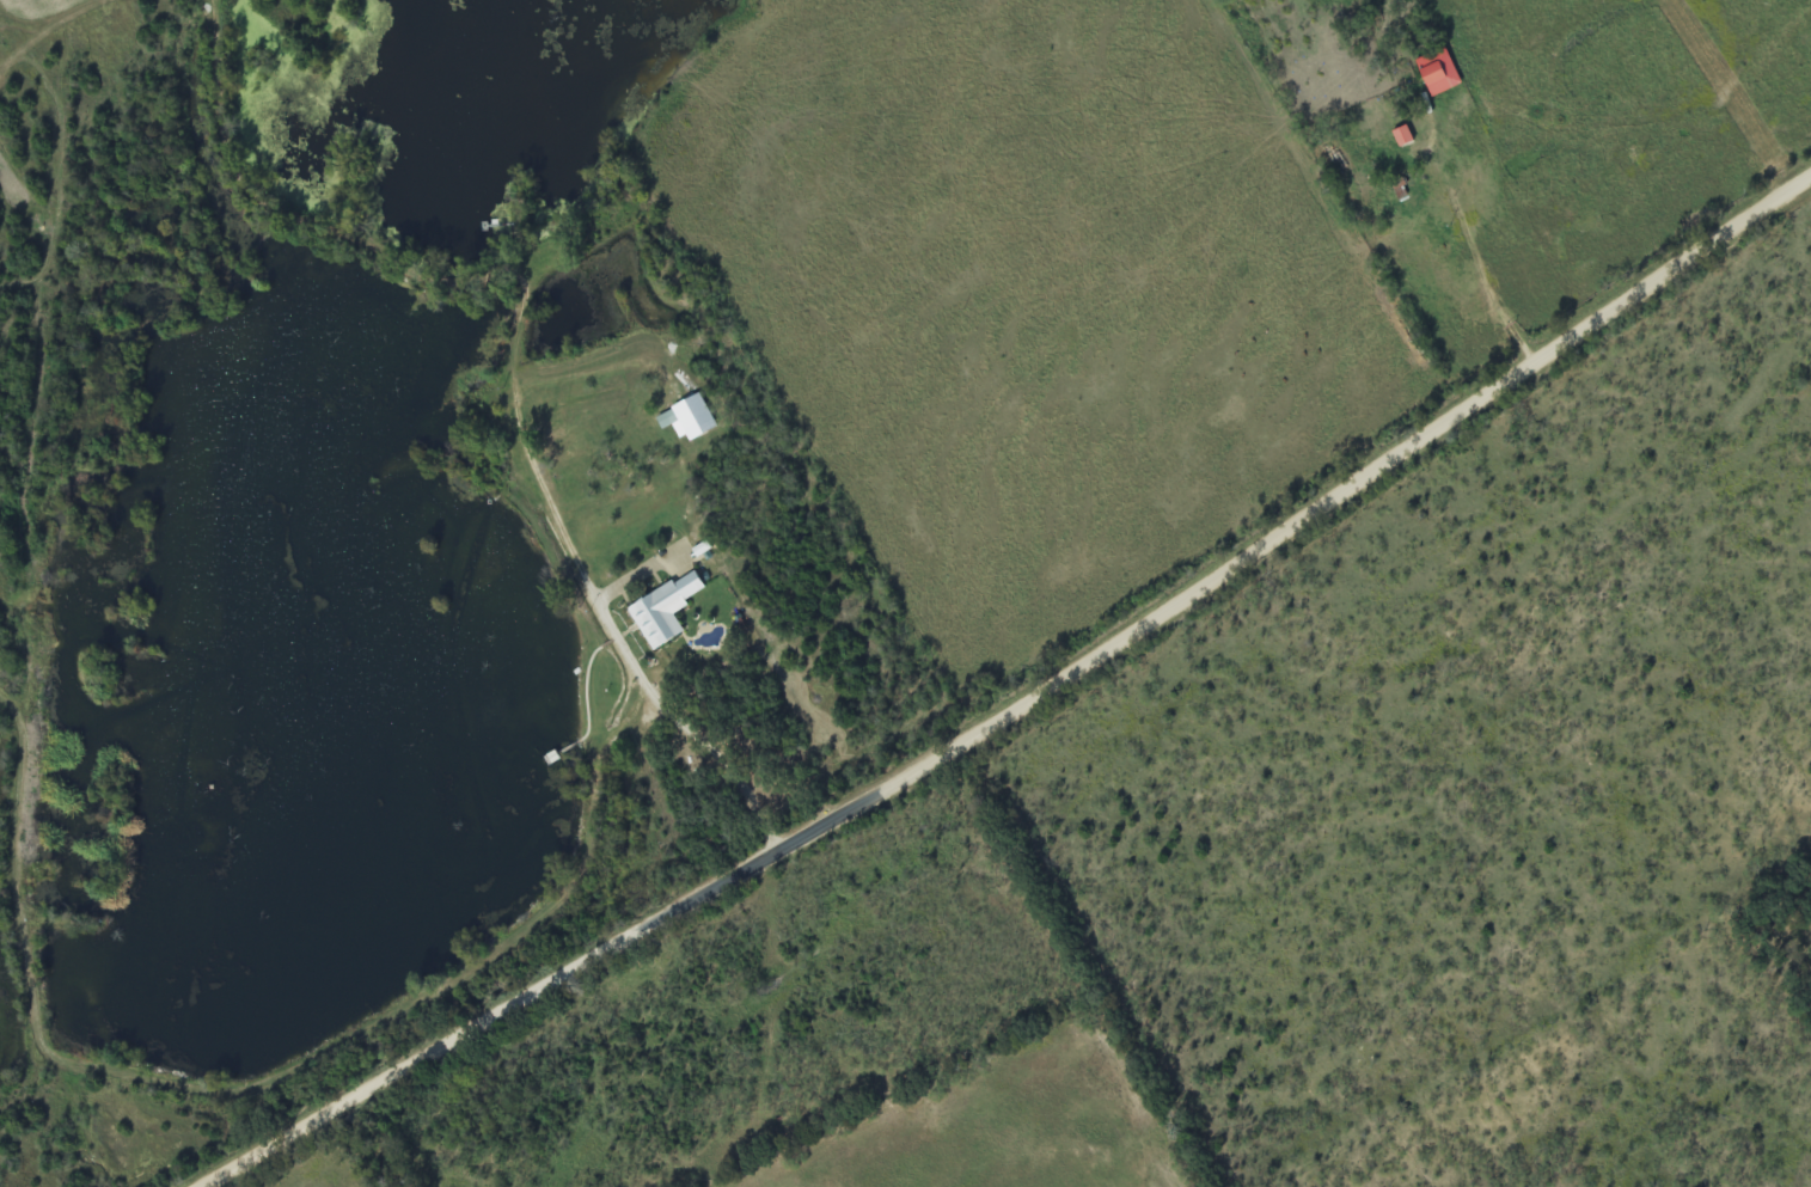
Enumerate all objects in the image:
building: (1438, 73)
building: (1402, 136)
building: (689, 420)
building: (665, 610)
road: (642, 679)
road: (1023, 706)

